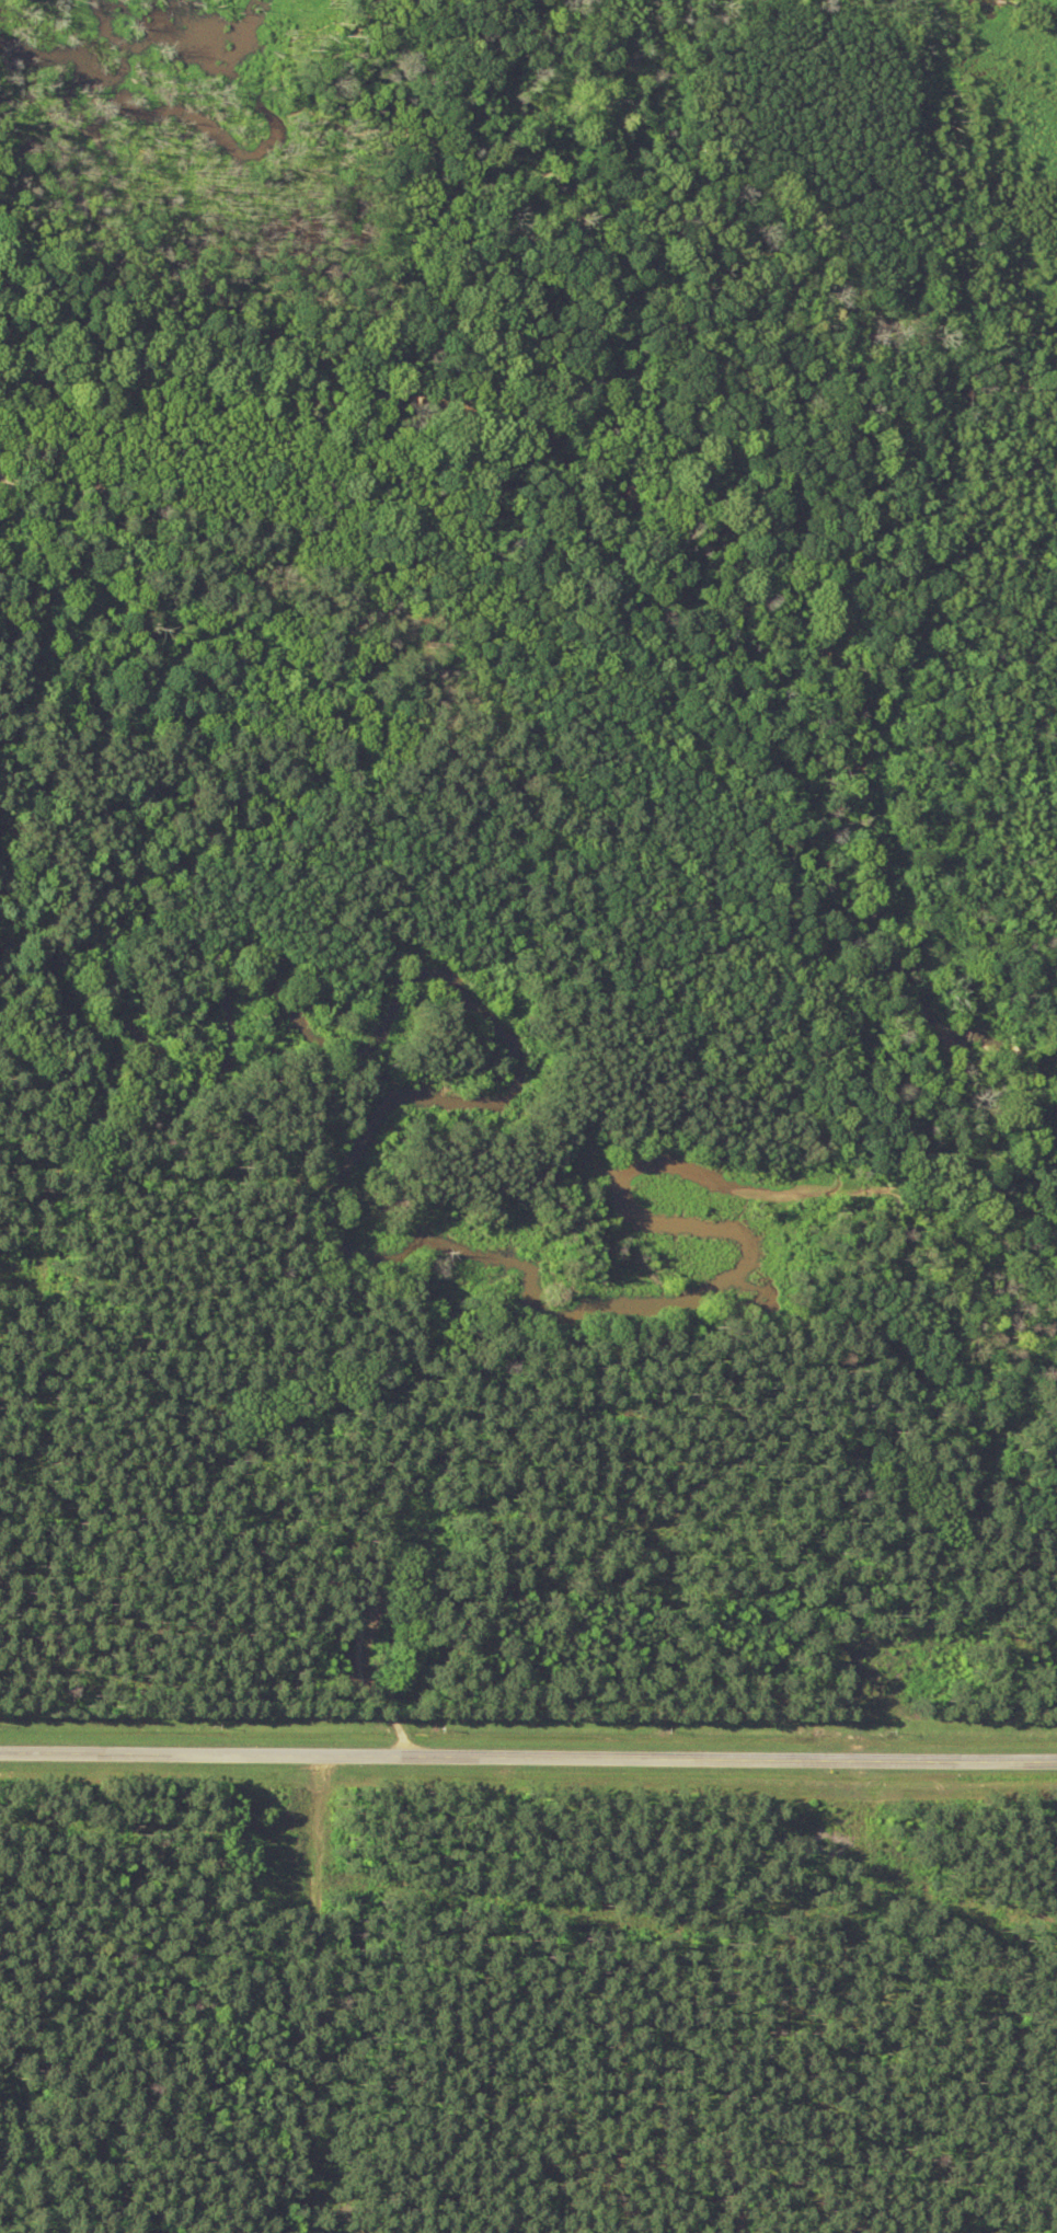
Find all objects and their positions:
road: (528, 1731)

